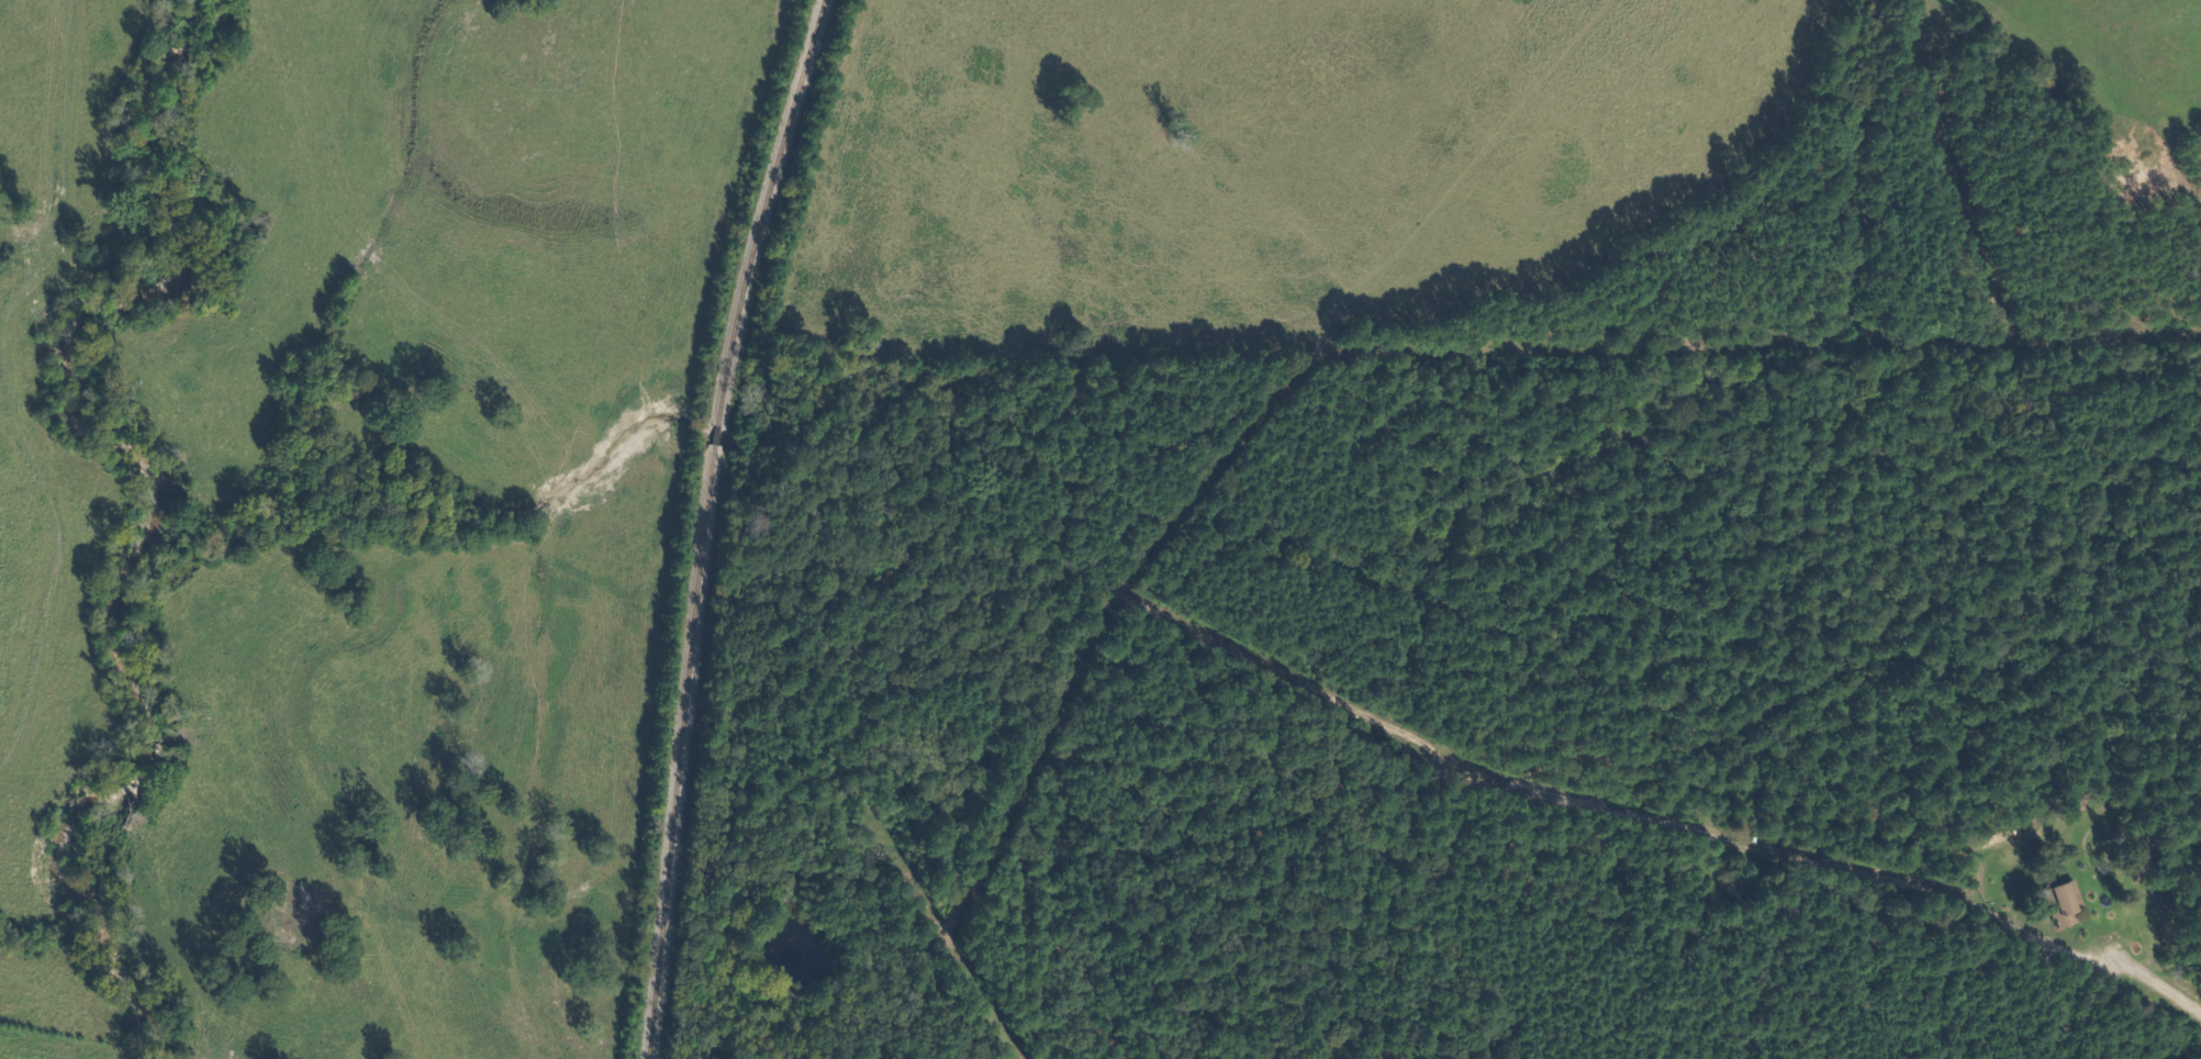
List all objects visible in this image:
railway: (701, 523)
road: (1191, 801)
road: (1854, 805)
building: (2062, 903)

